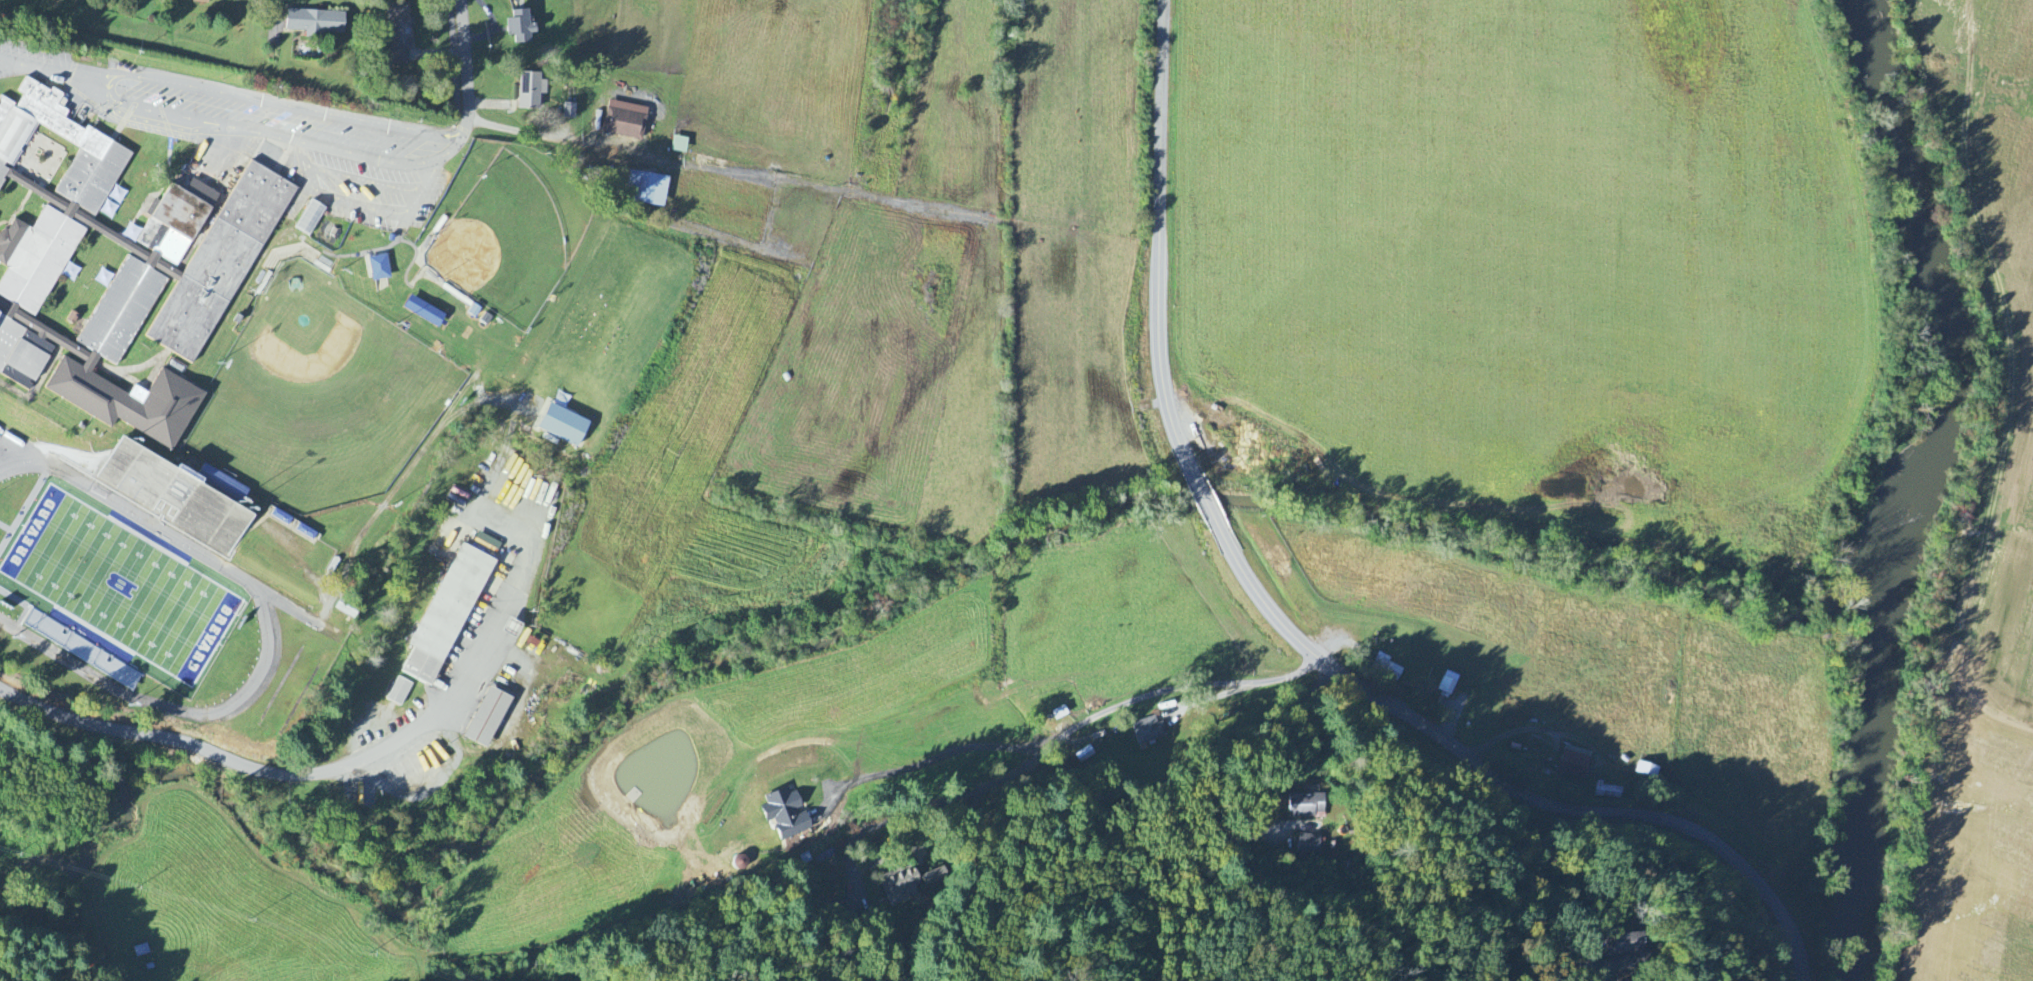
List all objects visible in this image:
building: (231, 0)
building: (201, 2)
building: (315, 22)
building: (520, 28)
building: (399, 33)
road: (46, 65)
road: (463, 73)
building: (530, 91)
building: (569, 112)
building: (625, 121)
building: (679, 145)
road: (444, 149)
building: (646, 189)
building: (310, 219)
park: (503, 242)
building: (220, 263)
river: (1944, 307)
building: (424, 312)
park: (320, 396)
building: (562, 426)
building: (174, 499)
park: (121, 585)
track: (124, 597)
building: (346, 610)
building: (446, 616)
road: (1286, 628)
building: (81, 651)
building: (1447, 684)
building: (399, 693)
building: (487, 719)
road: (1084, 724)
building: (1149, 731)
building: (1084, 755)
building: (1574, 763)
road: (926, 764)
building: (1647, 771)
road: (1206, 773)
road: (322, 774)
building: (1609, 792)
river: (1862, 798)
building: (1306, 806)
building: (786, 814)
building: (1309, 846)
building: (932, 877)
building: (900, 886)
power tower: (252, 919)
building: (1627, 948)

